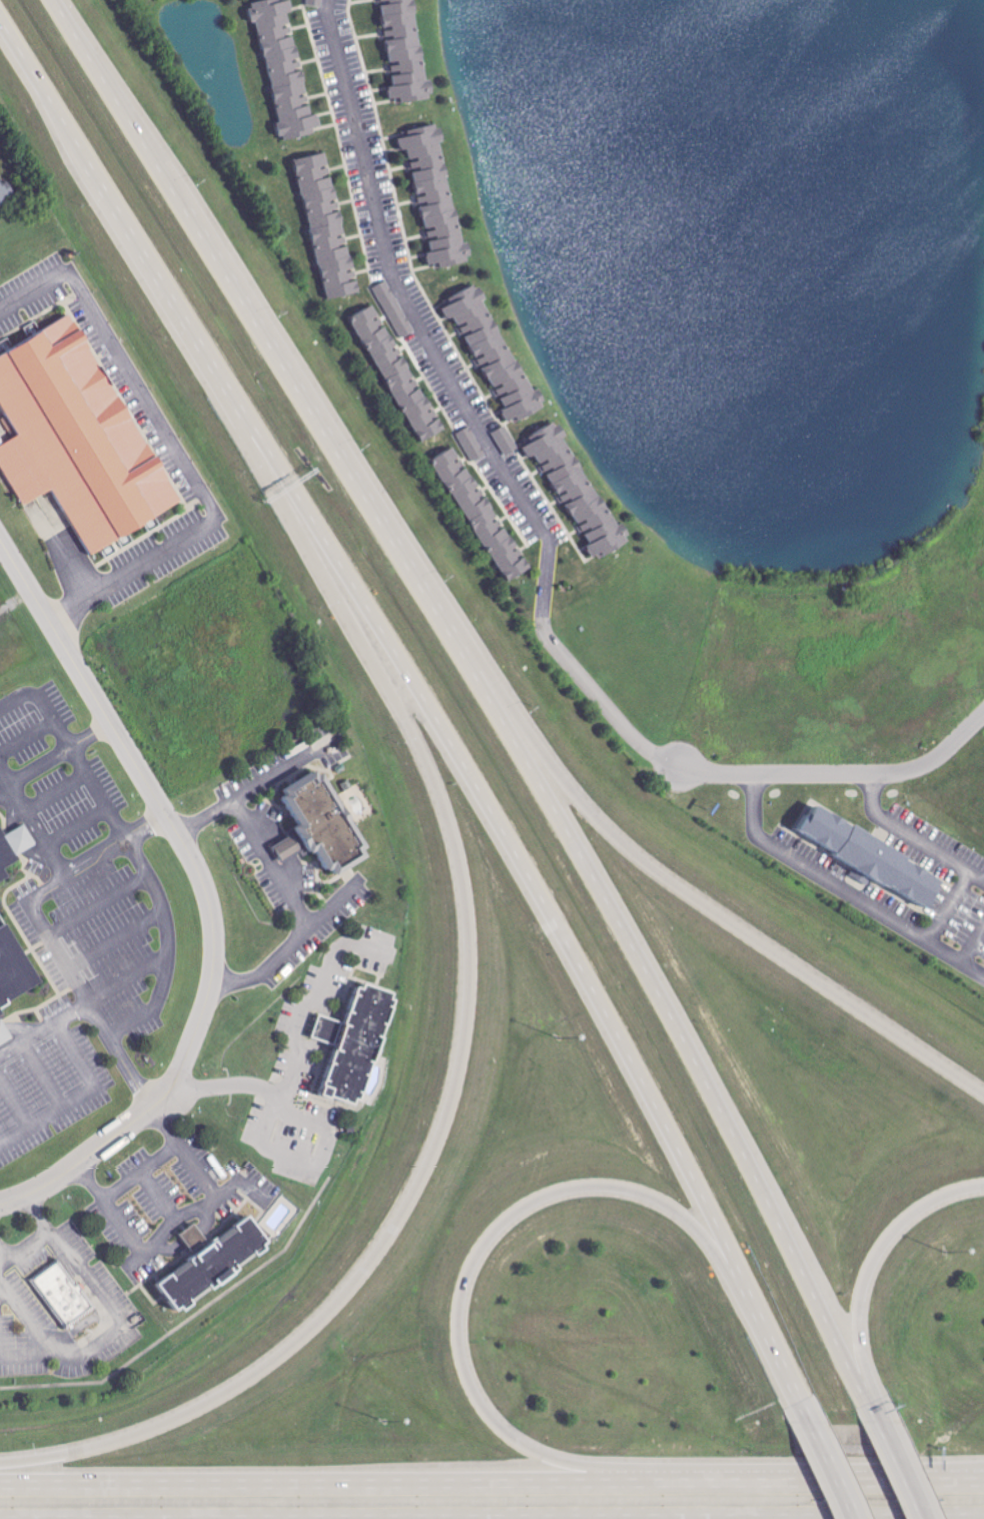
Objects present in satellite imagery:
building: (318, 3)
building: (408, 52)
building: (287, 68)
building: (6, 191)
building: (437, 195)
building: (329, 226)
building: (396, 309)
building: (495, 353)
building: (401, 373)
road: (468, 411)
building: (79, 437)
road: (172, 452)
building: (579, 491)
building: (485, 515)
road: (390, 639)
road: (483, 687)
road: (137, 768)
road: (284, 769)
road: (842, 771)
road: (20, 799)
building: (322, 827)
road: (913, 834)
building: (866, 855)
road: (148, 873)
road: (286, 886)
road: (844, 889)
road: (694, 898)
road: (335, 902)
road: (952, 907)
road: (50, 936)
road: (975, 948)
road: (44, 1028)
road: (465, 1035)
road: (298, 1043)
building: (359, 1045)
road: (79, 1095)
road: (123, 1129)
road: (309, 1161)
road: (141, 1170)
road: (242, 1182)
road: (179, 1218)
road: (42, 1234)
road: (478, 1253)
building: (207, 1260)
road: (873, 1261)
building: (59, 1293)
road: (119, 1328)
road: (778, 1354)
road: (875, 1410)
road: (833, 1471)
road: (901, 1471)
road: (980, 1476)
road: (980, 1478)
road: (803, 1479)
road: (315, 1483)

